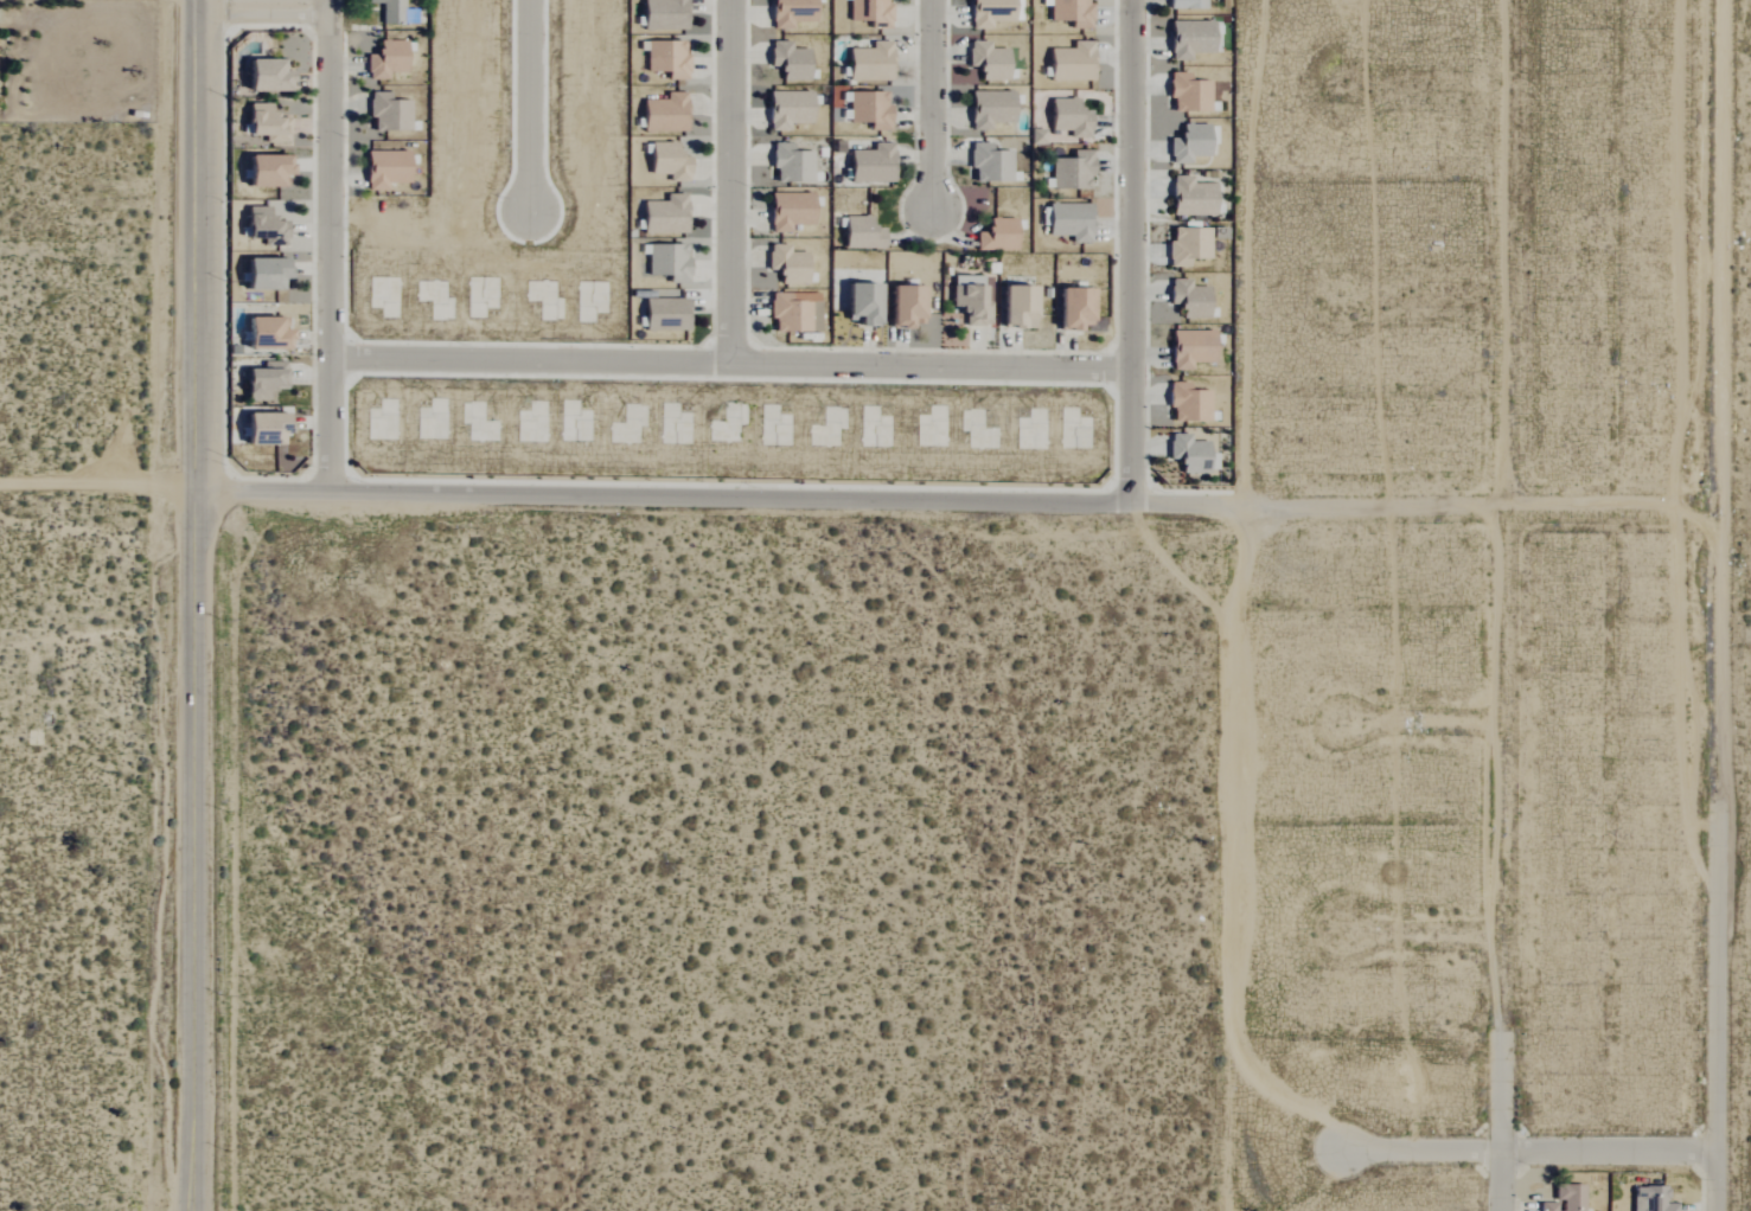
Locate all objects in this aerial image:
road: (197, 4)
building: (1186, 4)
road: (268, 8)
building: (389, 11)
building: (788, 12)
building: (868, 12)
building: (988, 12)
building: (1068, 12)
building: (662, 14)
building: (1188, 39)
building: (666, 59)
building: (384, 60)
building: (787, 60)
building: (985, 60)
building: (868, 63)
building: (1069, 63)
building: (263, 76)
building: (1187, 94)
road: (934, 103)
road: (532, 104)
building: (786, 109)
building: (868, 109)
building: (989, 109)
building: (388, 113)
building: (663, 114)
building: (1067, 117)
building: (263, 123)
building: (1189, 142)
building: (666, 161)
building: (790, 164)
building: (988, 164)
building: (870, 165)
building: (384, 168)
building: (263, 171)
building: (1071, 171)
road: (733, 181)
building: (1189, 197)
building: (788, 211)
building: (663, 214)
building: (1068, 222)
building: (262, 228)
building: (858, 233)
building: (995, 235)
road: (204, 244)
road: (332, 245)
building: (1187, 246)
road: (1133, 251)
building: (666, 263)
building: (786, 264)
building: (261, 274)
building: (1187, 299)
building: (969, 301)
building: (858, 305)
building: (901, 307)
building: (1015, 307)
building: (1069, 309)
building: (790, 312)
building: (663, 313)
building: (263, 333)
building: (1189, 348)
road: (733, 363)
building: (263, 380)
building: (1187, 403)
building: (262, 429)
building: (1187, 453)
road: (101, 481)
road: (1506, 482)
road: (667, 496)
road: (1183, 504)
road: (1369, 506)
road: (1605, 566)
road: (198, 850)
road: (1497, 1087)
road: (1718, 1117)
road: (1478, 1149)
building: (1653, 1198)
building: (1545, 1206)

